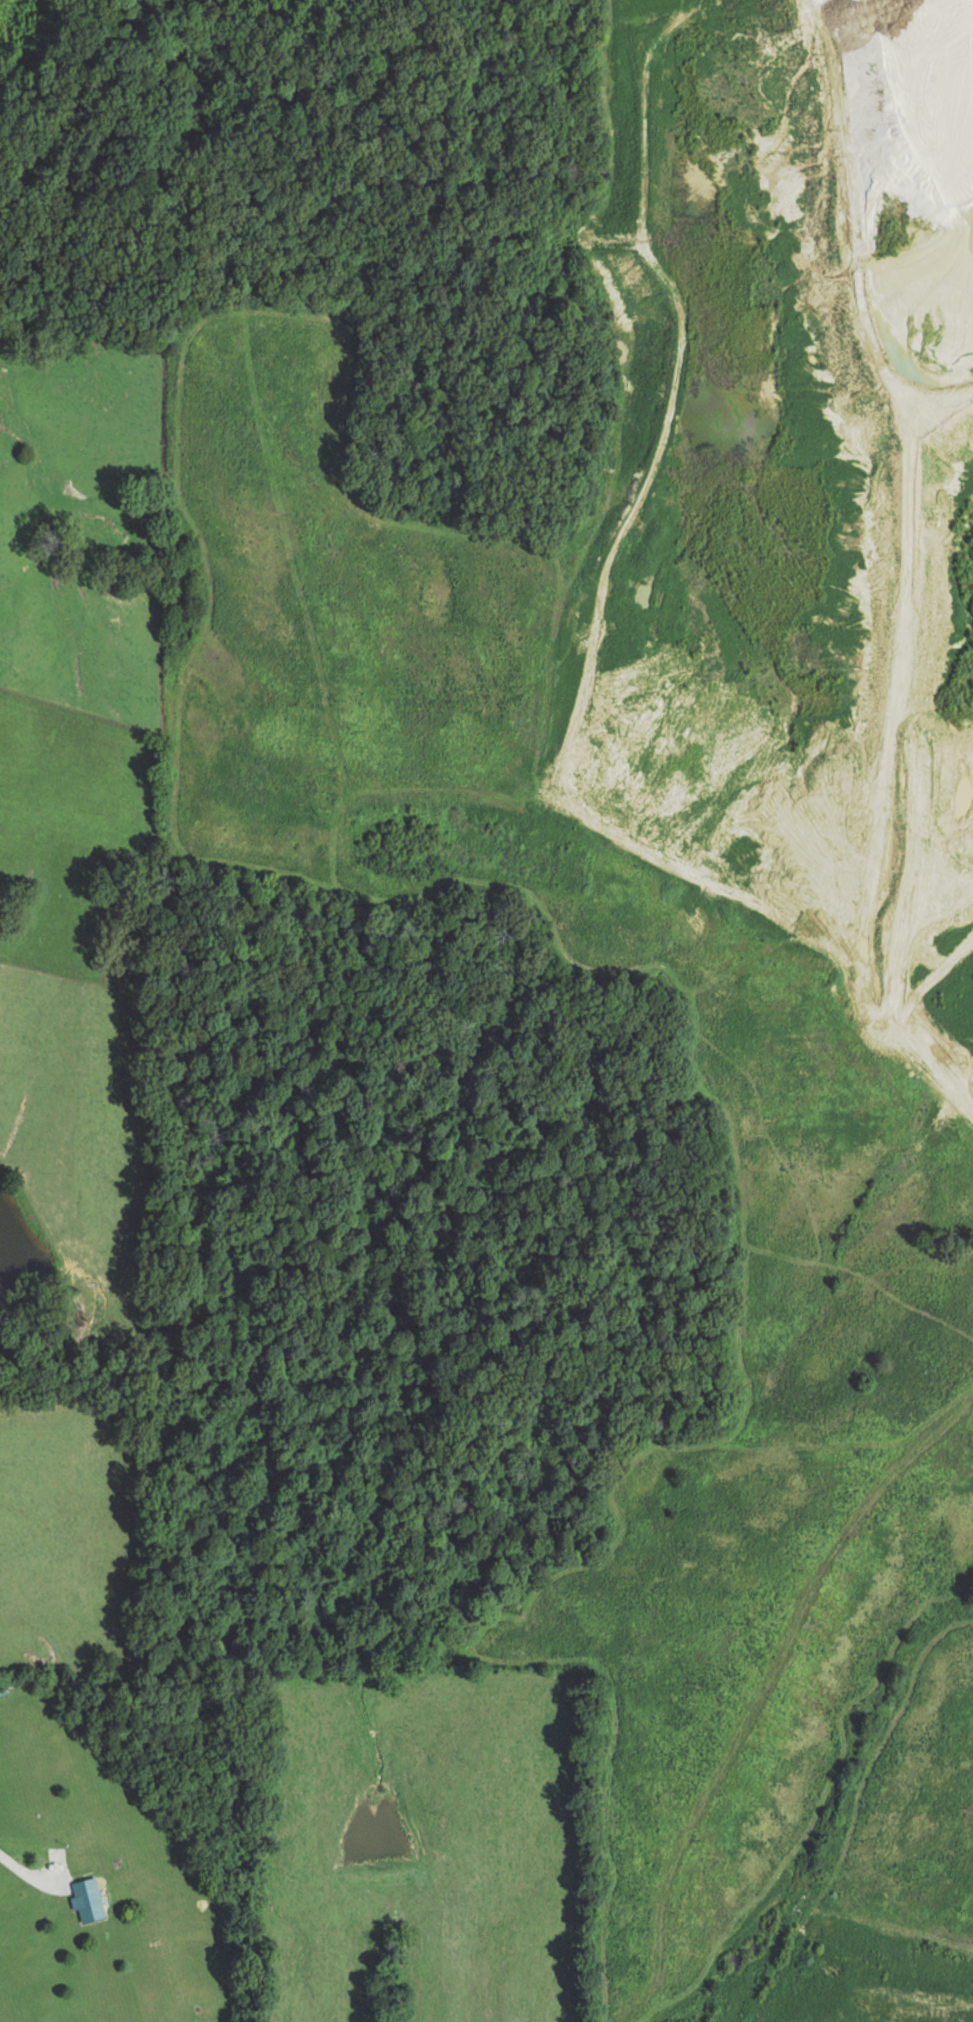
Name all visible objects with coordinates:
road: (28, 1876)
building: (87, 1900)

